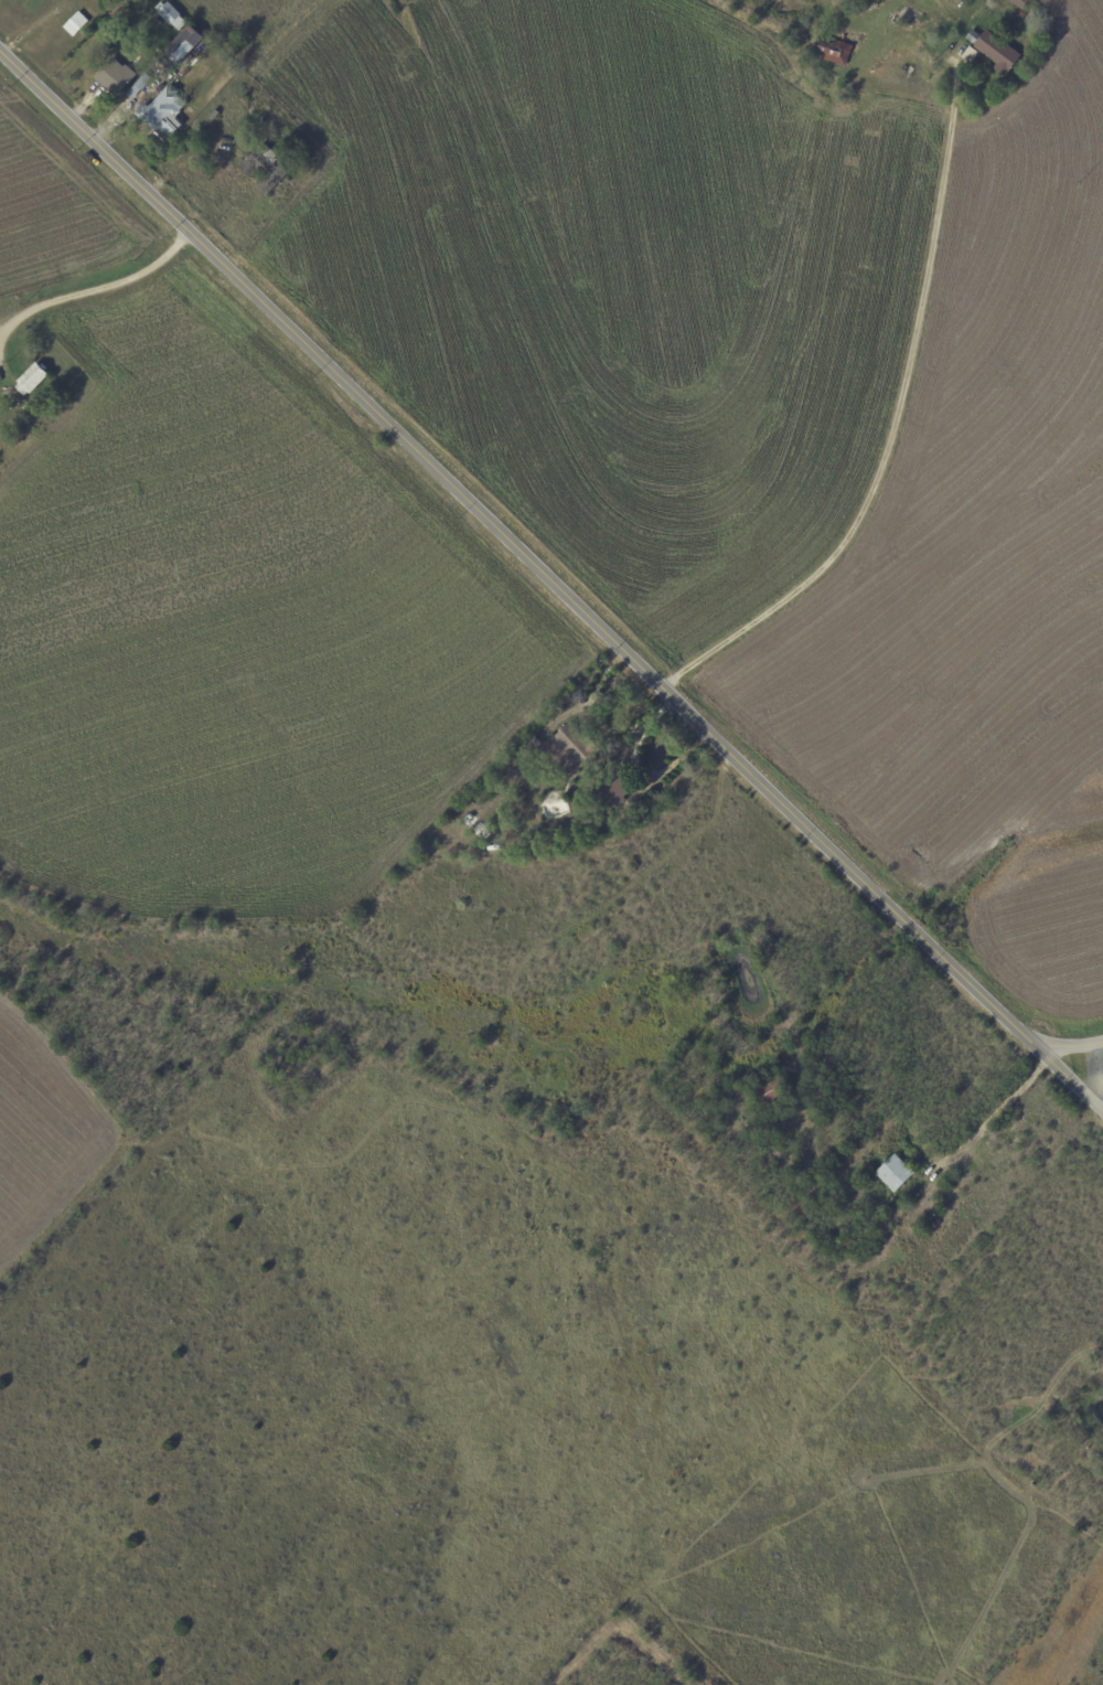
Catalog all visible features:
building: (89, 1)
building: (931, 3)
building: (1020, 3)
building: (171, 15)
building: (1022, 15)
building: (76, 24)
building: (185, 44)
building: (210, 49)
building: (834, 51)
building: (997, 51)
building: (971, 55)
building: (163, 65)
building: (116, 77)
building: (142, 86)
building: (163, 114)
building: (214, 116)
building: (265, 169)
building: (293, 181)
road: (89, 291)
building: (33, 380)
road: (890, 433)
road: (546, 593)
building: (532, 744)
building: (572, 749)
building: (618, 794)
building: (478, 826)
road: (1067, 1047)
building: (775, 1098)
building: (897, 1174)
building: (817, 1183)
building: (856, 1225)
building: (852, 1247)

